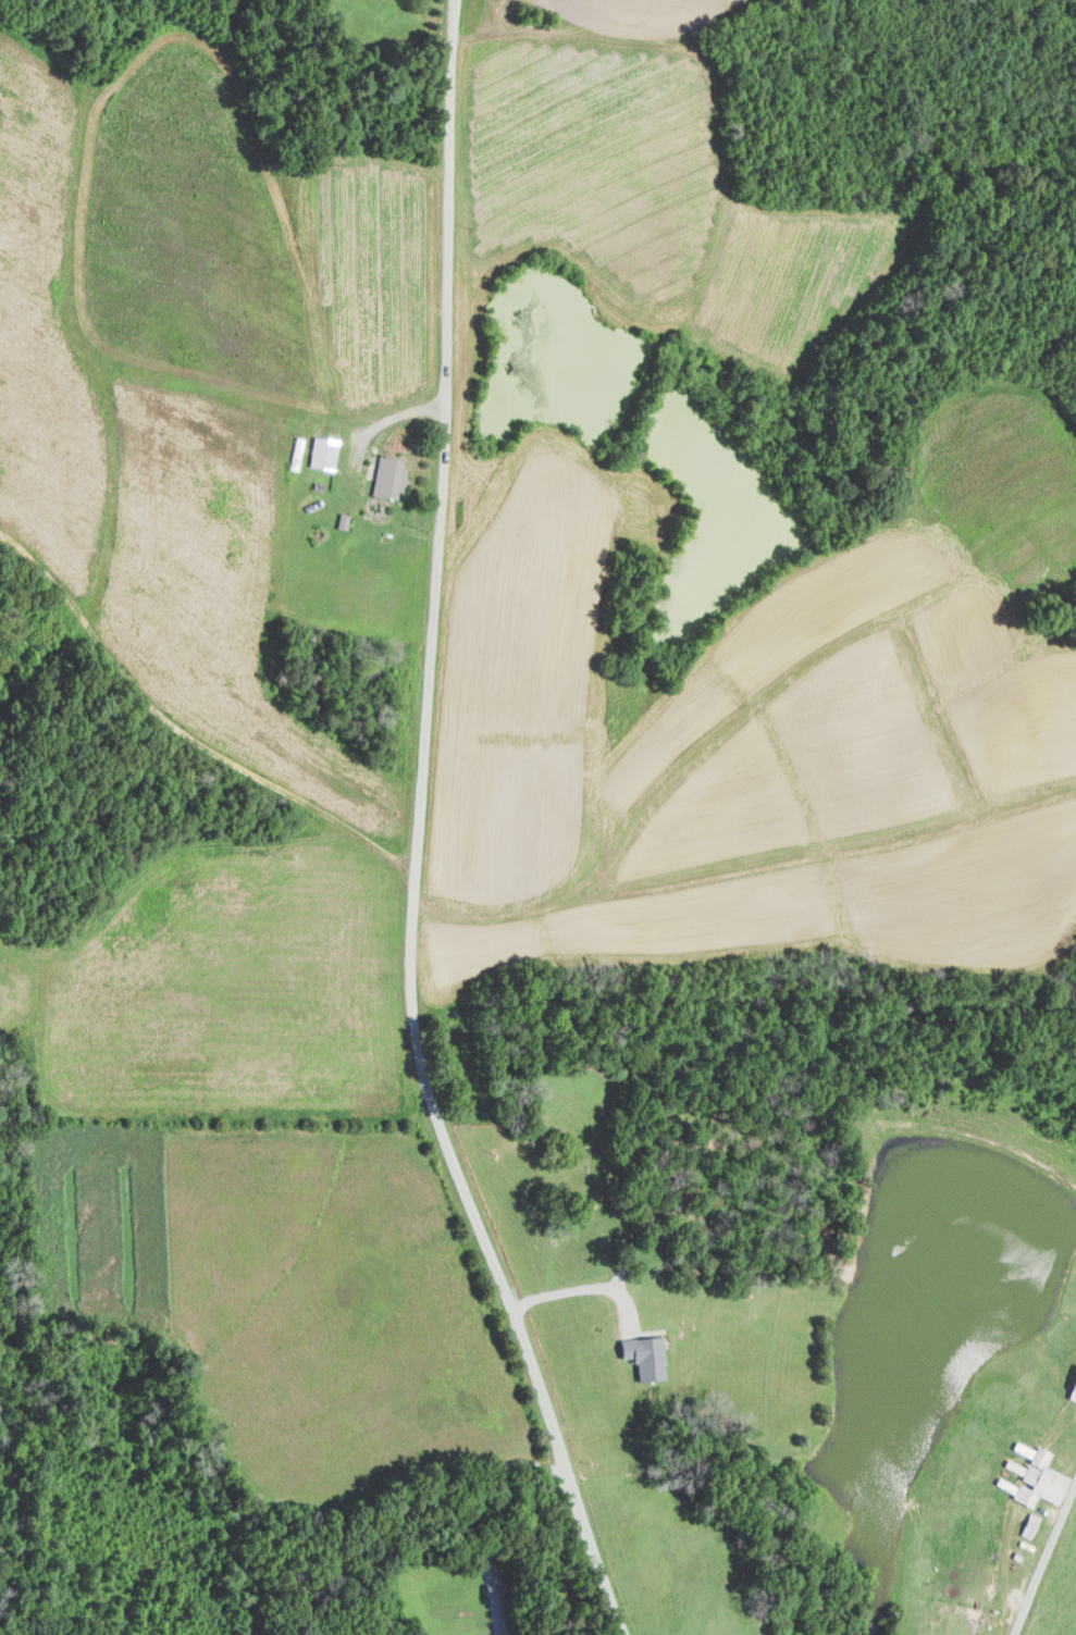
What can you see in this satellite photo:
building: (321, 453)
building: (386, 476)
road: (420, 834)
road: (578, 1288)
building: (642, 1355)
building: (1031, 1476)
road: (482, 1515)
road: (1042, 1550)

